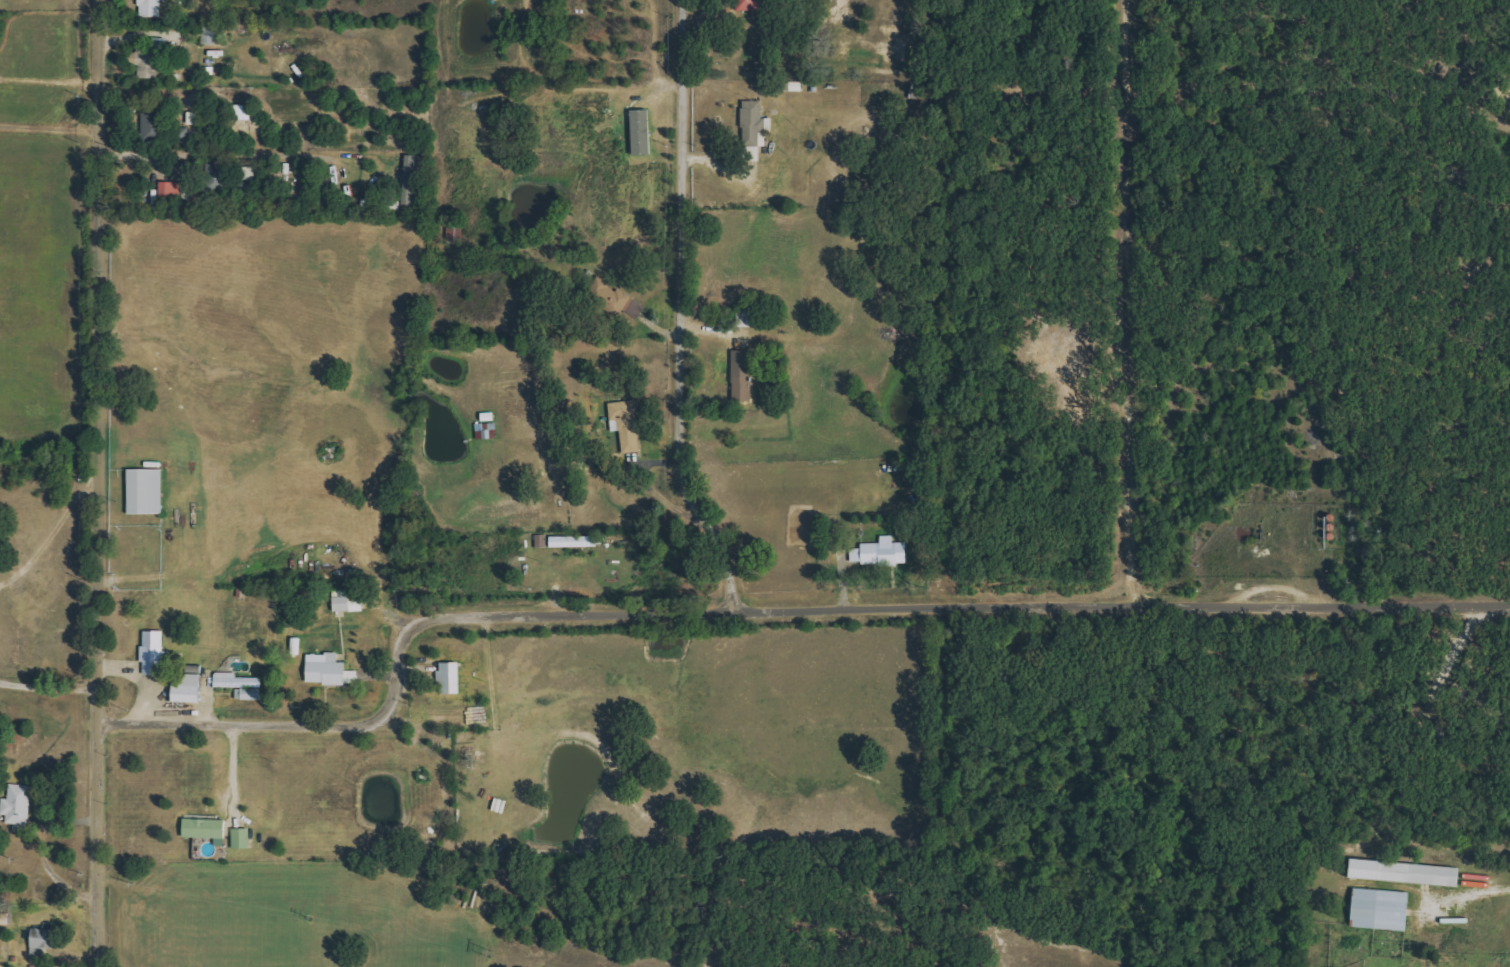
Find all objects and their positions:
building: (749, 5)
building: (152, 8)
building: (213, 34)
building: (147, 61)
road: (106, 73)
building: (244, 112)
building: (196, 118)
building: (755, 124)
building: (153, 127)
building: (643, 133)
building: (185, 135)
road: (53, 143)
road: (179, 152)
building: (215, 178)
building: (410, 180)
building: (175, 191)
building: (456, 231)
building: (616, 298)
road: (1126, 301)
road: (675, 308)
building: (747, 318)
building: (742, 375)
building: (628, 424)
building: (147, 491)
building: (542, 540)
building: (576, 541)
building: (882, 552)
road: (95, 557)
road: (765, 599)
building: (348, 604)
building: (298, 646)
building: (156, 653)
building: (330, 670)
building: (451, 677)
road: (46, 683)
building: (242, 685)
building: (190, 686)
road: (232, 768)
building: (19, 804)
building: (207, 829)
building: (242, 838)
road: (43, 853)
building: (1408, 872)
road: (1491, 892)
building: (1384, 909)
building: (46, 940)

